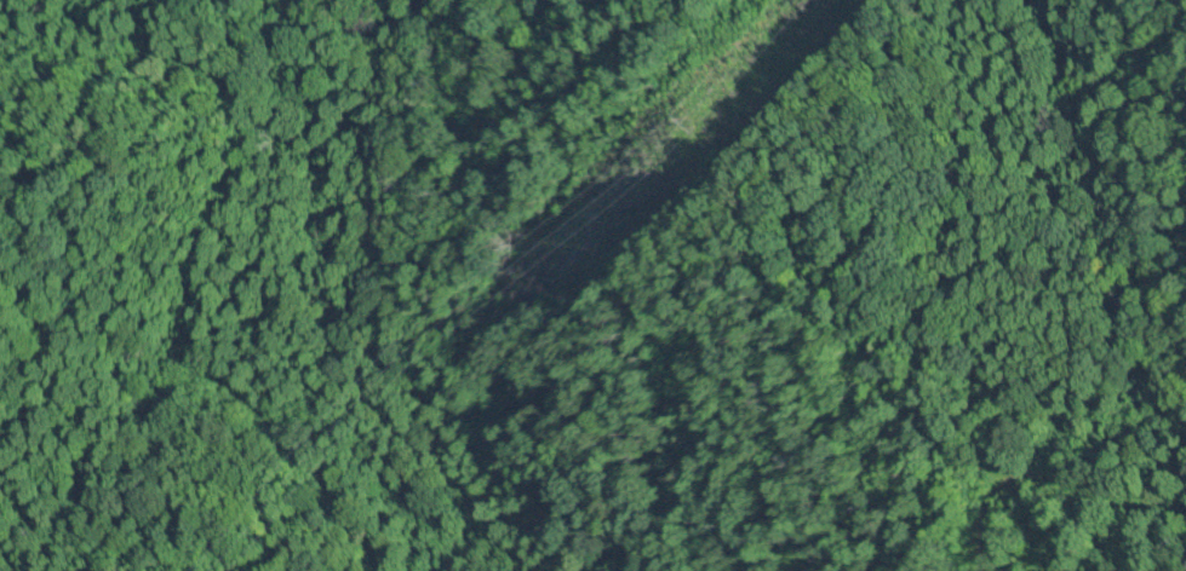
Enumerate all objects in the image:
power tower: (689, 122)

